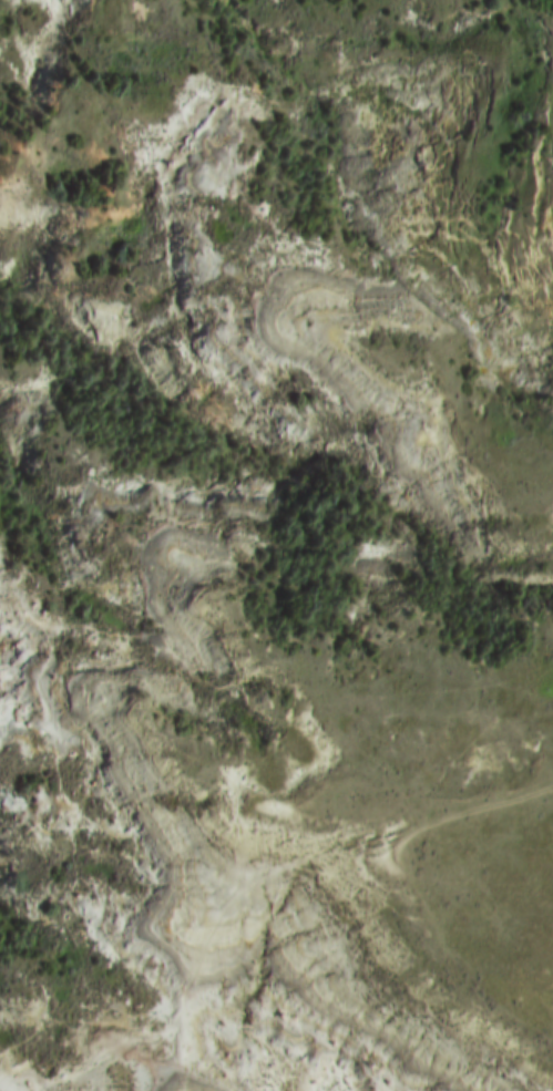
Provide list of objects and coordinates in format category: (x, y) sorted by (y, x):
road: (472, 806)
road: (193, 960)

